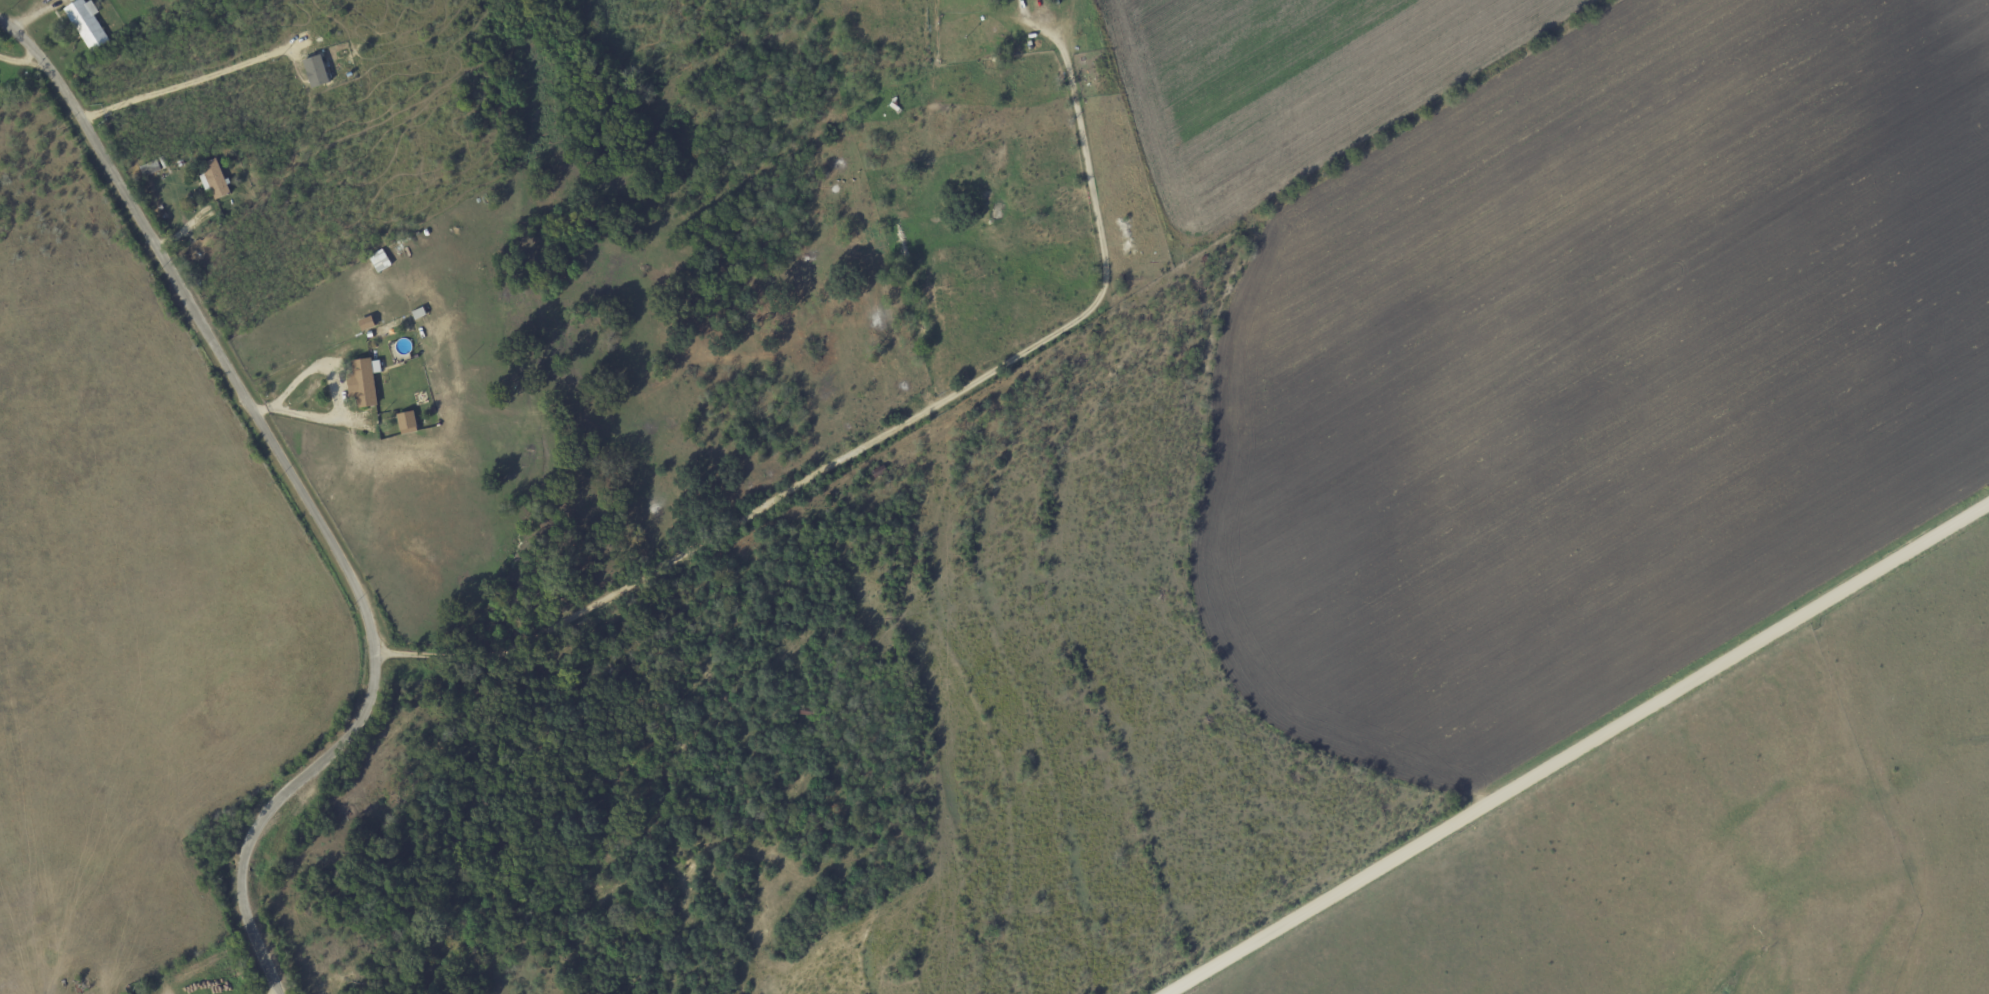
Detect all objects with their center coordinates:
building: (87, 24)
road: (22, 65)
building: (317, 71)
building: (215, 180)
building: (380, 261)
building: (365, 382)
building: (408, 423)
road: (883, 435)
road: (303, 498)
road: (1578, 751)

